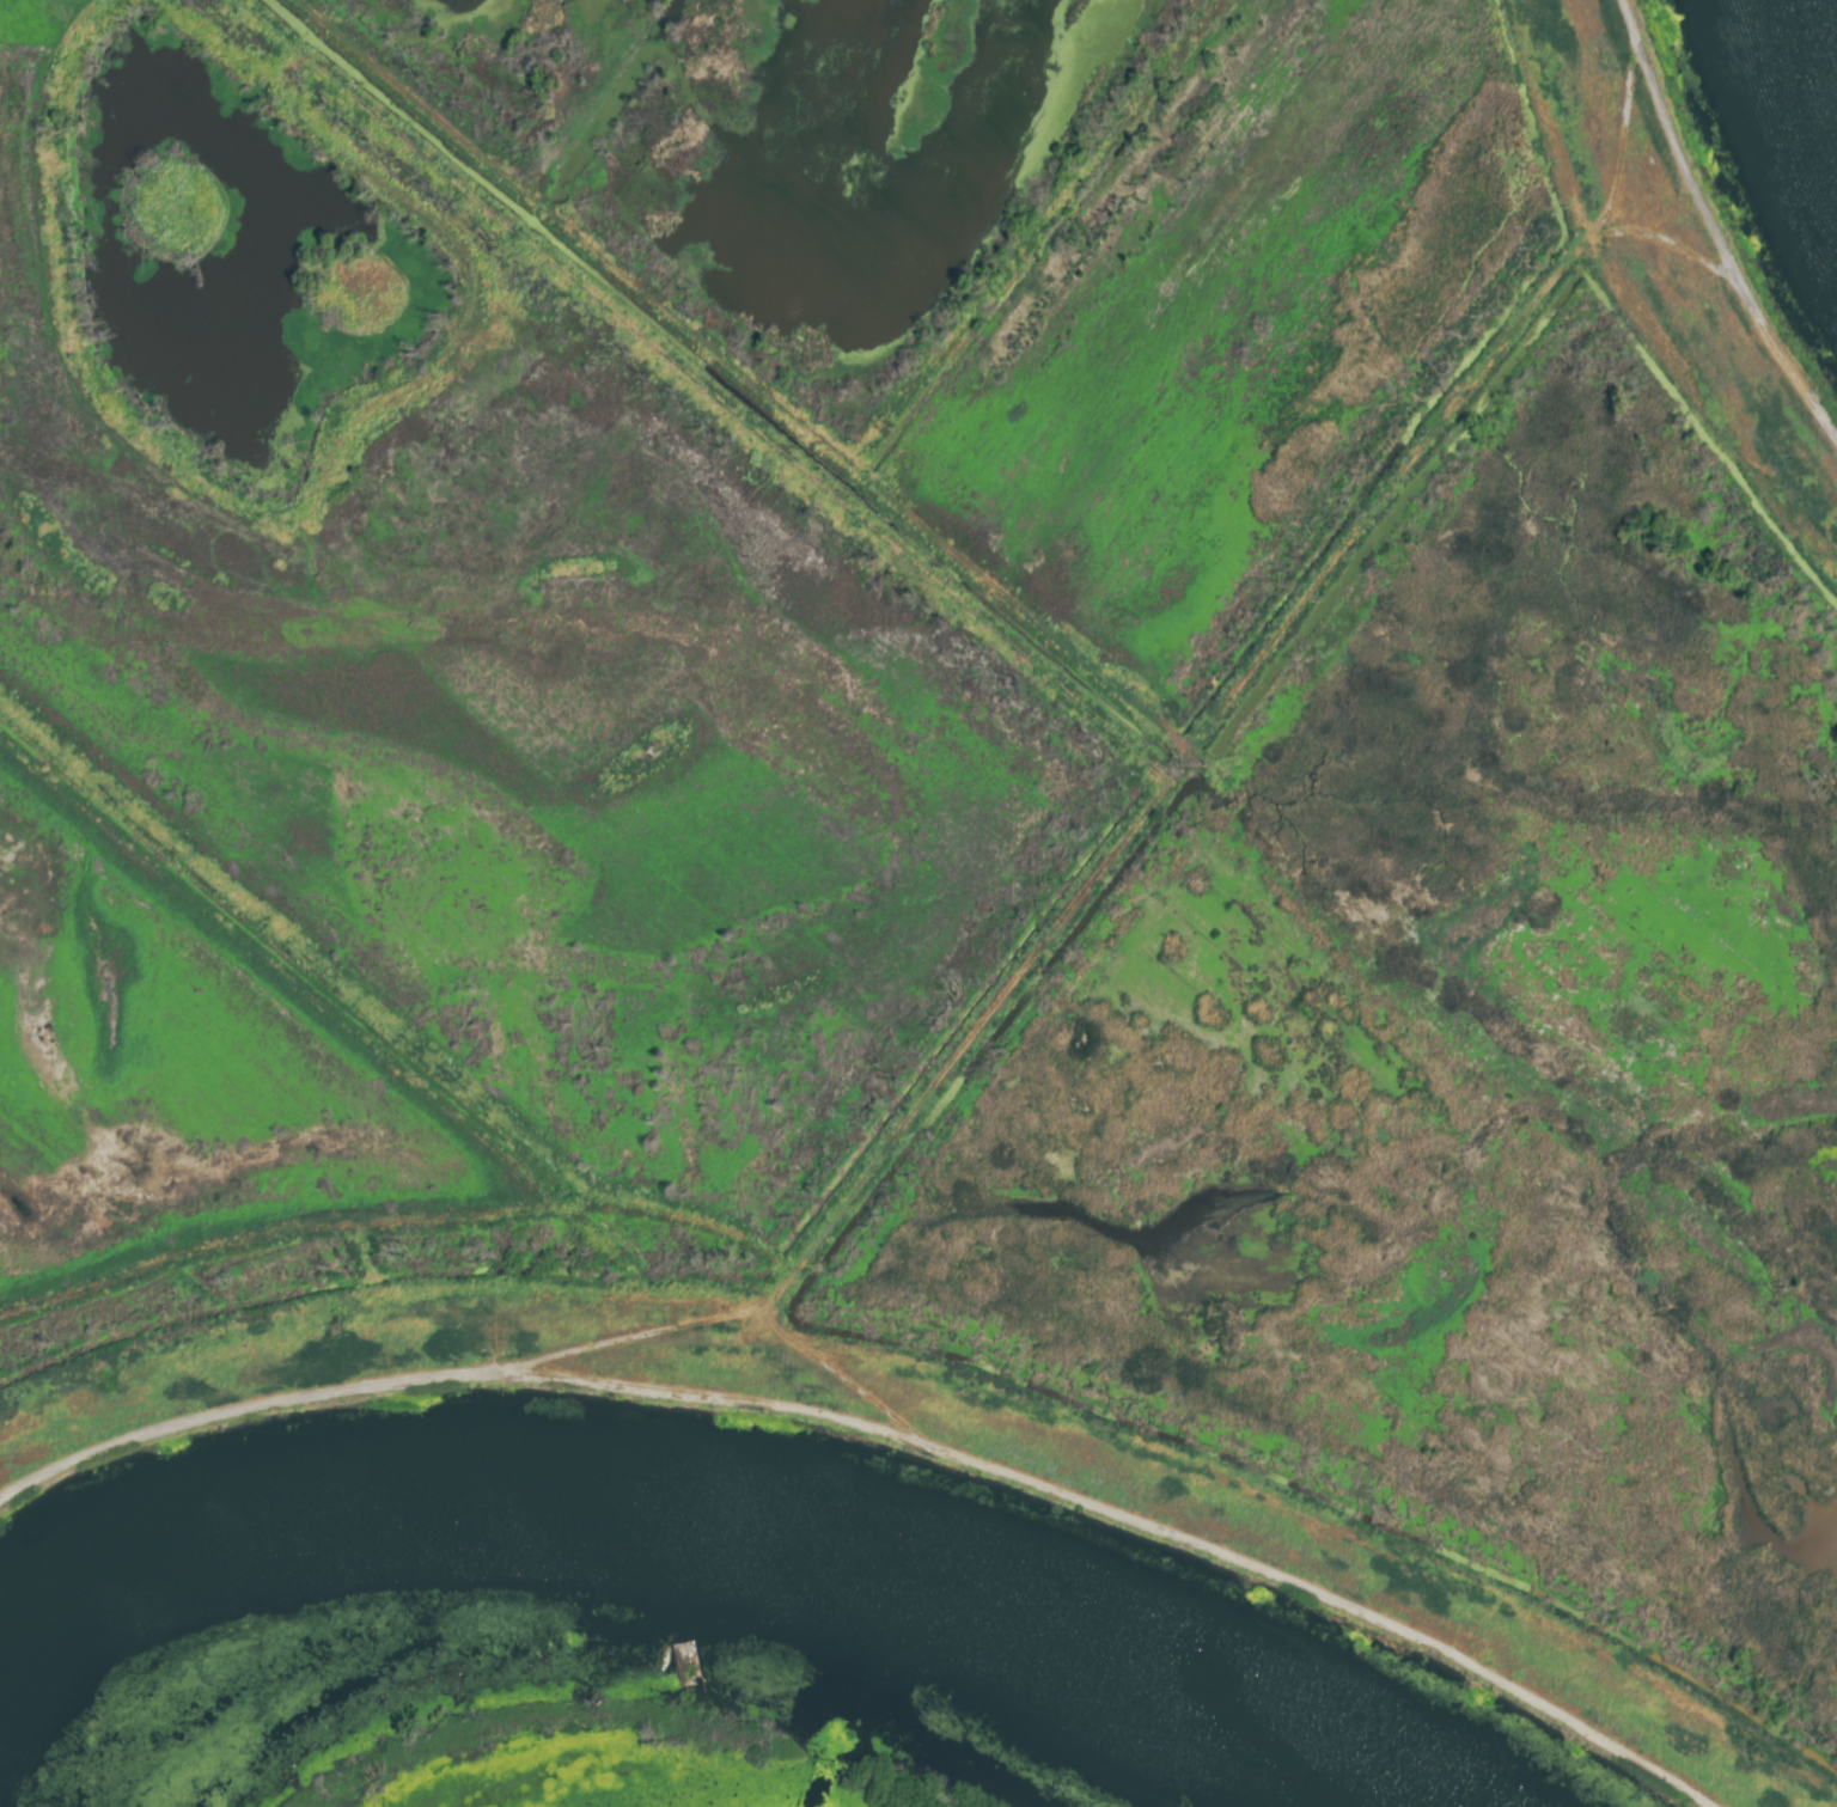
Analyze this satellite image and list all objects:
crop: (964, 849)
river: (655, 1570)

